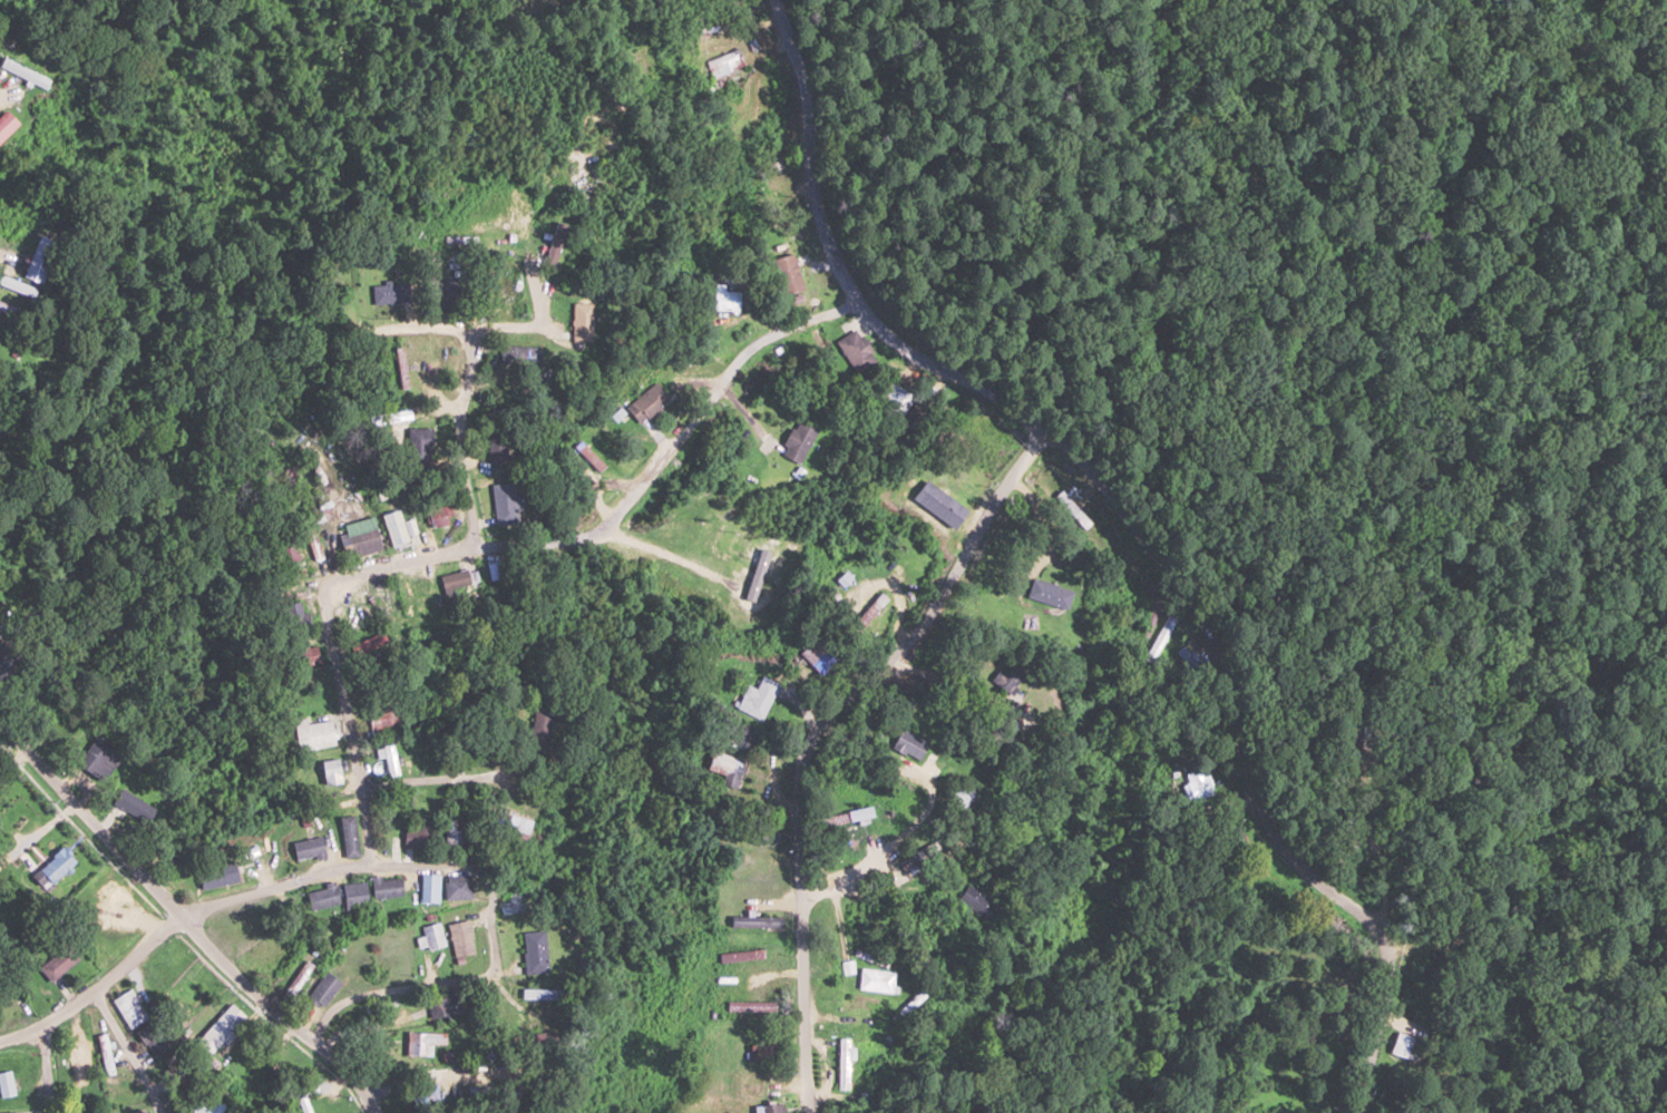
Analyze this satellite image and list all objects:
road: (733, 31)
building: (714, 41)
building: (727, 62)
building: (22, 72)
building: (6, 123)
building: (702, 223)
building: (552, 254)
building: (33, 257)
building: (389, 292)
building: (506, 293)
building: (450, 296)
building: (724, 297)
building: (7, 309)
building: (581, 321)
road: (416, 324)
building: (857, 350)
building: (519, 354)
building: (896, 399)
building: (647, 402)
road: (1299, 427)
road: (462, 438)
building: (797, 440)
building: (497, 443)
building: (419, 447)
building: (504, 504)
building: (937, 504)
road: (1148, 506)
building: (438, 515)
building: (399, 529)
building: (360, 534)
building: (286, 547)
road: (396, 563)
building: (452, 582)
building: (1049, 593)
road: (1032, 594)
building: (294, 615)
building: (364, 645)
building: (306, 653)
building: (1187, 657)
building: (4, 658)
building: (1010, 674)
road: (977, 686)
building: (755, 697)
building: (384, 717)
road: (347, 722)
building: (536, 732)
building: (314, 733)
building: (739, 735)
road: (869, 743)
building: (908, 744)
building: (94, 754)
building: (387, 754)
building: (724, 764)
building: (330, 771)
road: (413, 781)
building: (1199, 784)
building: (958, 794)
building: (133, 807)
building: (907, 813)
building: (847, 817)
road: (50, 822)
road: (493, 826)
building: (510, 826)
building: (417, 833)
building: (763, 833)
building: (345, 836)
building: (451, 838)
building: (305, 849)
building: (841, 856)
building: (56, 866)
building: (760, 870)
building: (216, 875)
building: (455, 886)
building: (383, 887)
road: (267, 888)
building: (427, 888)
building: (352, 896)
building: (319, 897)
building: (975, 902)
building: (515, 904)
road: (889, 905)
road: (489, 916)
road: (185, 921)
building: (755, 921)
building: (1432, 936)
building: (430, 937)
building: (461, 937)
building: (534, 951)
building: (58, 961)
road: (868, 966)
road: (1040, 975)
building: (876, 979)
building: (296, 980)
building: (730, 986)
building: (322, 989)
road: (392, 989)
building: (187, 998)
building: (7, 1002)
building: (450, 1004)
building: (128, 1006)
road: (67, 1009)
building: (220, 1027)
road: (20, 1034)
building: (152, 1038)
building: (423, 1042)
building: (1404, 1043)
road: (1045, 1046)
building: (762, 1047)
road: (131, 1049)
building: (87, 1051)
building: (105, 1054)
building: (840, 1063)
road: (43, 1071)
building: (750, 1076)
building: (6, 1084)
building: (426, 1096)
building: (209, 1109)
building: (766, 1109)
building: (29, 1111)
building: (138, 1111)
building: (7, 1112)

